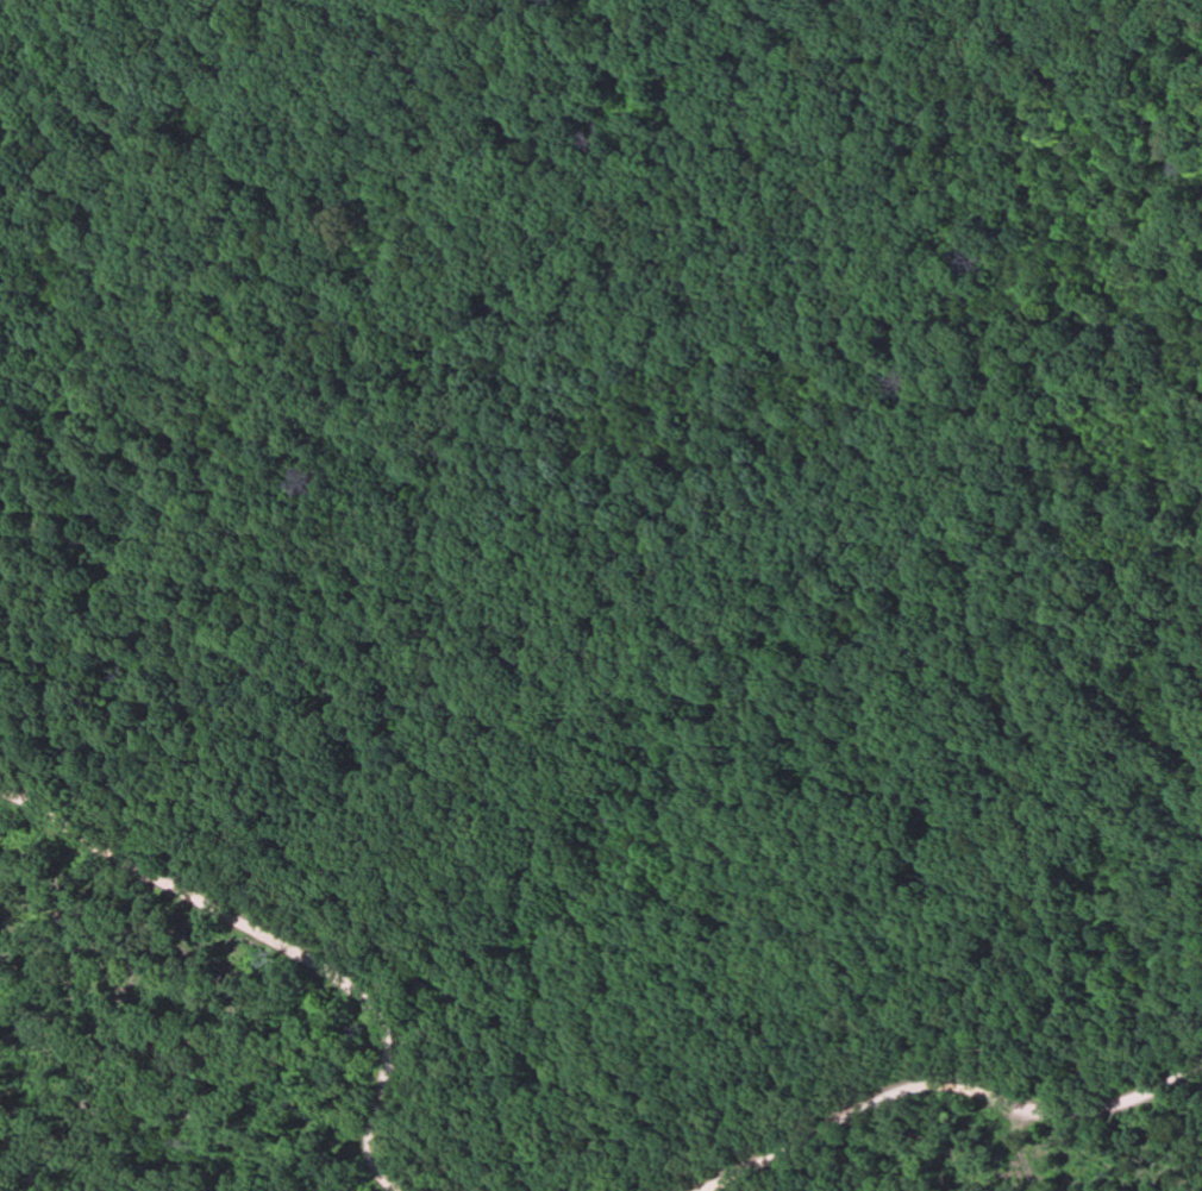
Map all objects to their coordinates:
road: (268, 944)
road: (953, 1092)

